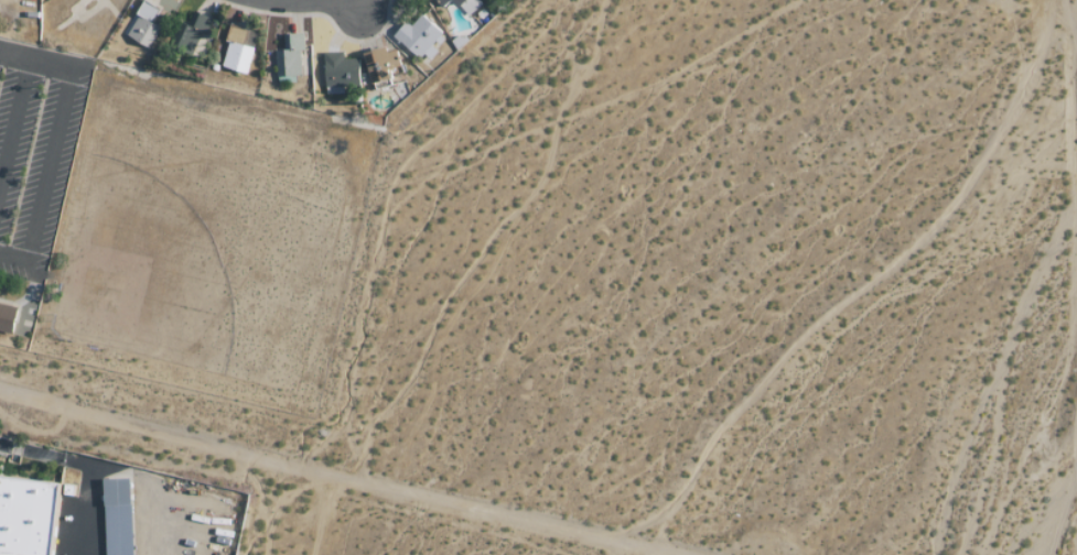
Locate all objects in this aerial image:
building: (441, 2)
building: (467, 6)
building: (142, 25)
building: (190, 33)
building: (419, 37)
building: (236, 52)
building: (289, 55)
building: (384, 67)
building: (340, 73)
road: (13, 118)
road: (50, 143)
building: (6, 317)
road: (82, 467)
road: (381, 470)
building: (24, 515)
building: (115, 518)

